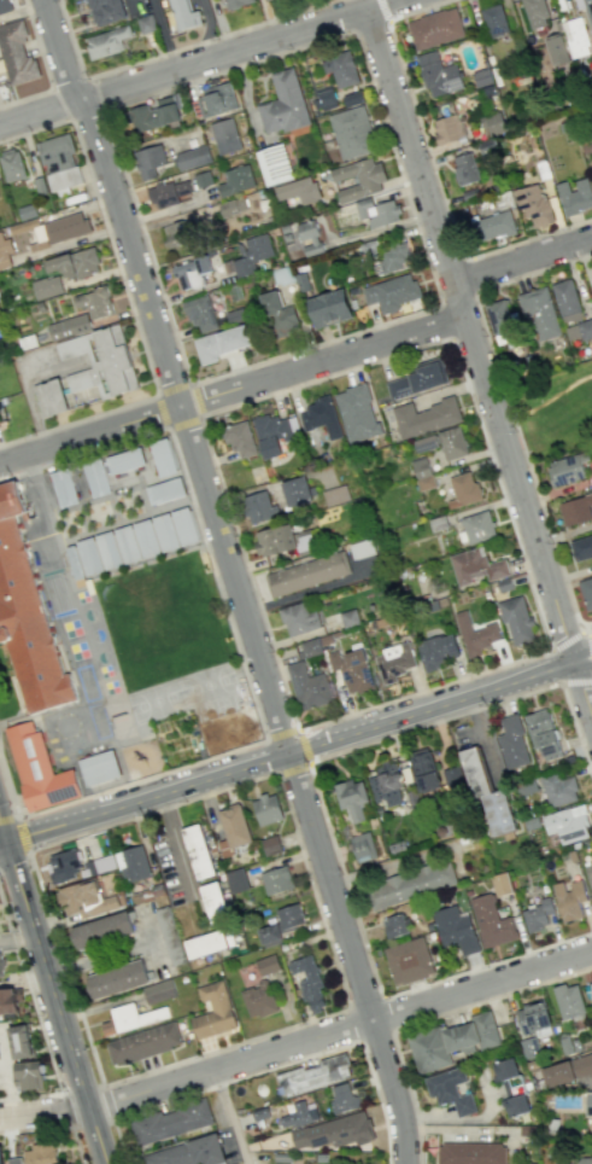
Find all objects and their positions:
building: (235, 2)
building: (5, 6)
building: (585, 8)
road: (383, 10)
building: (105, 11)
building: (535, 13)
building: (184, 14)
building: (494, 21)
building: (146, 23)
road: (370, 25)
road: (209, 28)
building: (434, 28)
building: (575, 36)
building: (107, 41)
building: (556, 48)
road: (170, 51)
building: (16, 53)
road: (198, 60)
road: (45, 68)
building: (341, 69)
building: (438, 75)
building: (482, 77)
road: (68, 81)
road: (96, 92)
building: (217, 99)
building: (324, 99)
road: (59, 104)
building: (283, 104)
road: (104, 109)
building: (154, 114)
road: (87, 115)
building: (492, 123)
building: (352, 127)
building: (447, 128)
building: (224, 135)
building: (193, 157)
building: (148, 161)
building: (59, 162)
building: (11, 164)
building: (274, 164)
building: (464, 168)
road: (433, 173)
building: (203, 179)
building: (359, 179)
building: (235, 180)
building: (298, 190)
building: (168, 192)
building: (575, 196)
building: (533, 204)
building: (231, 206)
building: (377, 211)
road: (104, 221)
building: (496, 225)
building: (66, 227)
building: (176, 233)
building: (309, 235)
building: (5, 251)
building: (252, 254)
road: (522, 256)
building: (75, 263)
building: (191, 272)
road: (475, 274)
building: (282, 275)
building: (46, 286)
building: (391, 292)
building: (567, 301)
road: (439, 304)
building: (329, 307)
building: (99, 313)
building: (200, 313)
building: (539, 313)
building: (280, 315)
building: (580, 330)
road: (451, 339)
building: (222, 343)
road: (479, 362)
building: (418, 379)
road: (231, 389)
road: (154, 392)
building: (49, 397)
road: (508, 405)
road: (553, 405)
building: (356, 413)
park: (557, 413)
building: (321, 417)
building: (424, 417)
road: (77, 420)
building: (274, 433)
building: (239, 438)
building: (428, 441)
building: (452, 442)
building: (163, 456)
building: (125, 460)
building: (565, 468)
building: (96, 477)
building: (423, 478)
building: (64, 487)
building: (463, 489)
building: (165, 491)
building: (298, 491)
building: (335, 495)
road: (189, 500)
building: (259, 506)
building: (575, 510)
building: (477, 526)
building: (282, 540)
building: (136, 541)
building: (581, 547)
building: (362, 548)
building: (74, 563)
building: (476, 565)
building: (306, 574)
road: (236, 578)
building: (585, 590)
building: (27, 616)
building: (299, 617)
building: (516, 619)
road: (582, 628)
road: (587, 630)
building: (474, 634)
road: (565, 641)
road: (588, 645)
road: (591, 645)
building: (436, 651)
road: (581, 654)
building: (393, 662)
road: (582, 664)
road: (556, 665)
building: (352, 669)
road: (576, 681)
park: (206, 683)
building: (307, 686)
park: (154, 700)
building: (543, 733)
road: (281, 734)
building: (512, 741)
road: (303, 745)
road: (291, 753)
building: (99, 767)
road: (292, 767)
building: (39, 769)
building: (424, 770)
road: (275, 774)
building: (453, 779)
building: (387, 785)
road: (115, 786)
building: (558, 788)
building: (488, 797)
building: (352, 798)
road: (322, 808)
building: (266, 809)
building: (567, 823)
road: (19, 826)
building: (233, 828)
road: (4, 830)
road: (4, 843)
traffic signals: (7, 843)
building: (270, 845)
building: (362, 846)
building: (198, 851)
building: (133, 863)
building: (63, 866)
building: (588, 874)
building: (236, 880)
building: (276, 880)
building: (500, 883)
building: (410, 884)
building: (81, 898)
building: (569, 898)
building: (215, 902)
building: (538, 914)
building: (491, 921)
building: (281, 924)
building: (394, 925)
building: (101, 930)
building: (455, 930)
building: (169, 935)
road: (17, 936)
building: (210, 942)
road: (96, 958)
building: (408, 960)
building: (266, 965)
building: (0, 966)
building: (116, 979)
building: (309, 982)
building: (591, 990)
building: (159, 991)
building: (258, 1000)
building: (10, 1001)
building: (569, 1001)
road: (57, 1002)
building: (213, 1011)
building: (533, 1017)
building: (128, 1018)
road: (426, 1019)
road: (40, 1023)
road: (391, 1030)
building: (20, 1041)
building: (452, 1041)
building: (142, 1043)
road: (298, 1043)
road: (274, 1067)
building: (567, 1067)
building: (504, 1069)
building: (316, 1073)
building: (27, 1075)
road: (81, 1089)
building: (450, 1090)
building: (344, 1098)
road: (107, 1102)
building: (587, 1104)
building: (516, 1105)
road: (66, 1110)
building: (300, 1113)
road: (233, 1117)
building: (170, 1122)
road: (92, 1123)
road: (54, 1129)
building: (334, 1131)
building: (0, 1153)
building: (40, 1153)
building: (187, 1153)
building: (470, 1153)
building: (281, 1158)
building: (14, 1160)
building: (582, 1160)

